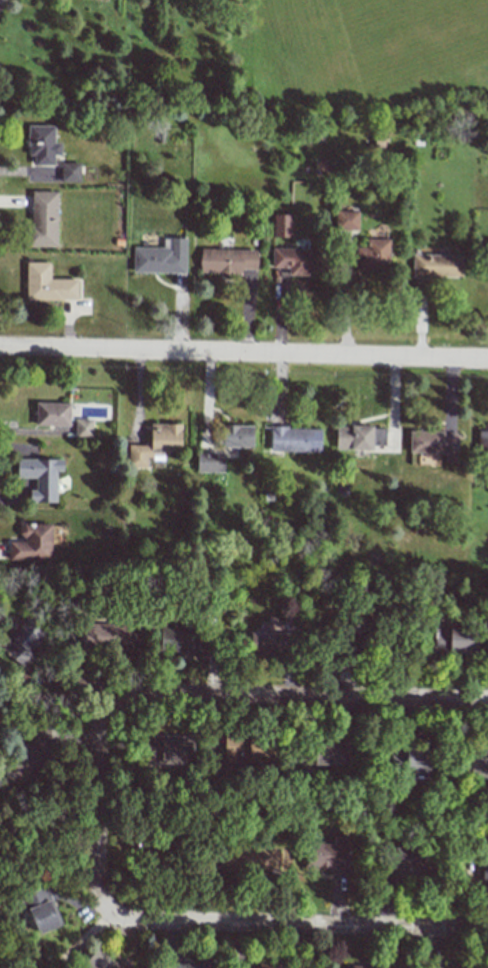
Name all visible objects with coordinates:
building: (42, 144)
building: (69, 172)
building: (43, 219)
building: (346, 220)
building: (282, 226)
building: (373, 256)
building: (161, 257)
building: (486, 258)
building: (298, 260)
building: (226, 261)
building: (436, 265)
building: (47, 284)
road: (244, 352)
building: (52, 414)
building: (83, 428)
building: (237, 436)
building: (359, 437)
building: (295, 439)
building: (482, 441)
building: (434, 443)
building: (155, 444)
building: (209, 462)
building: (40, 477)
building: (31, 543)
building: (111, 636)
building: (182, 640)
building: (453, 640)
building: (23, 642)
building: (266, 644)
road: (297, 696)
building: (248, 749)
building: (166, 750)
building: (33, 751)
building: (330, 754)
building: (409, 761)
building: (223, 768)
building: (478, 768)
building: (328, 856)
building: (246, 859)
building: (410, 865)
building: (484, 871)
building: (40, 909)
road: (191, 920)
building: (98, 961)
building: (193, 965)
building: (280, 966)
building: (361, 967)

